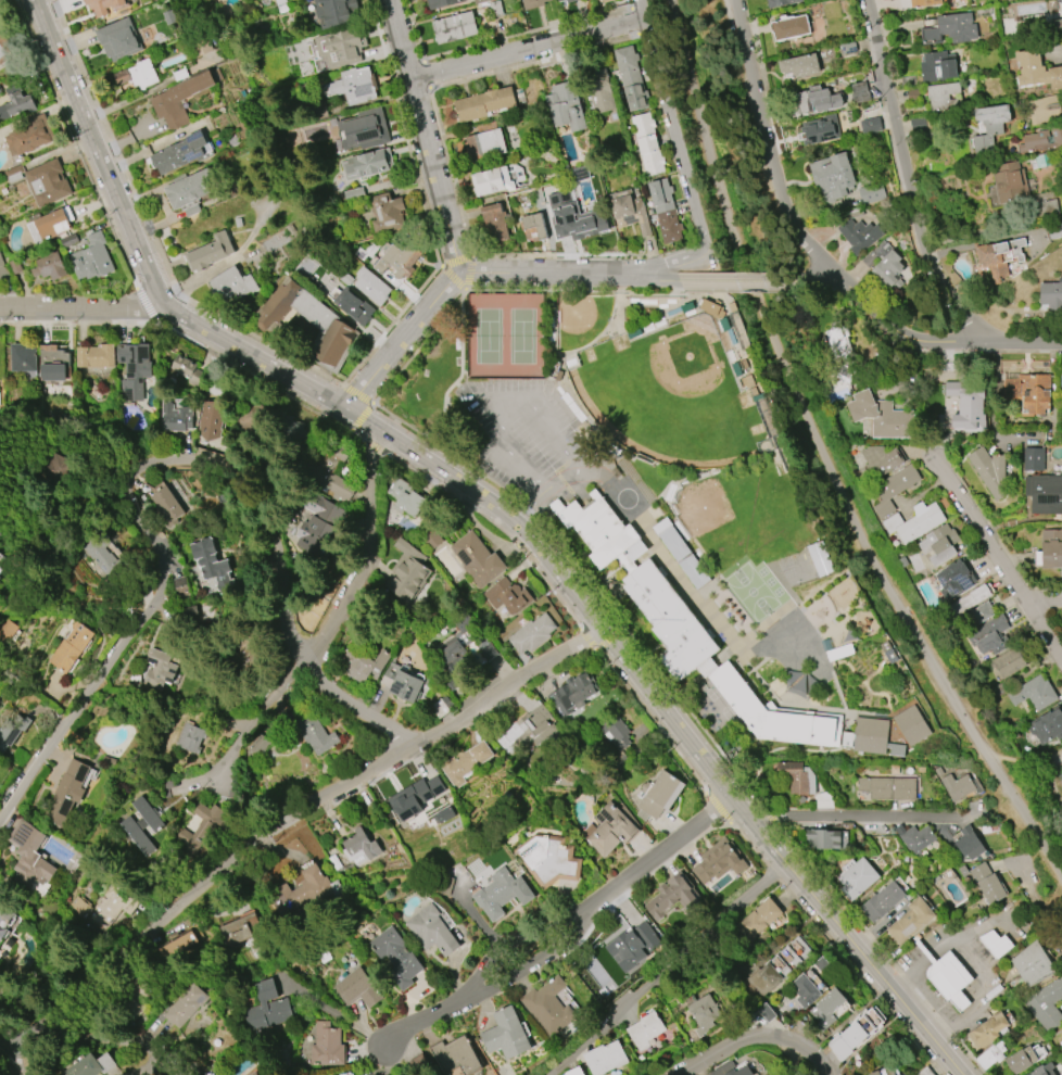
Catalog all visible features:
building: (560, 0)
building: (960, 0)
building: (479, 1)
building: (570, 1)
building: (606, 1)
building: (780, 2)
building: (924, 2)
building: (441, 3)
building: (532, 3)
building: (1061, 3)
building: (105, 5)
building: (495, 8)
building: (334, 12)
road: (639, 13)
building: (1055, 25)
building: (454, 27)
road: (641, 27)
building: (791, 28)
road: (414, 29)
building: (950, 29)
road: (526, 33)
building: (118, 39)
building: (201, 46)
building: (341, 46)
building: (5, 48)
building: (848, 48)
road: (529, 50)
building: (627, 63)
building: (798, 66)
building: (938, 66)
building: (1035, 69)
road: (423, 73)
building: (137, 74)
building: (179, 74)
road: (446, 80)
building: (357, 85)
building: (597, 85)
building: (859, 92)
building: (635, 93)
building: (943, 97)
building: (177, 100)
building: (812, 101)
building: (20, 103)
building: (484, 104)
building: (566, 105)
building: (918, 124)
building: (870, 125)
building: (988, 128)
building: (819, 129)
building: (363, 130)
building: (643, 130)
road: (405, 134)
road: (425, 134)
building: (29, 135)
building: (1040, 140)
road: (77, 143)
building: (485, 143)
road: (680, 143)
road: (769, 150)
building: (182, 153)
building: (652, 161)
building: (367, 164)
building: (832, 176)
building: (497, 179)
building: (47, 181)
road: (906, 181)
building: (1010, 185)
building: (191, 188)
building: (871, 192)
building: (660, 195)
building: (630, 210)
building: (387, 212)
building: (574, 218)
building: (494, 223)
building: (50, 225)
building: (669, 226)
building: (533, 227)
road: (736, 232)
road: (151, 236)
building: (859, 236)
building: (67, 240)
building: (210, 252)
road: (564, 255)
road: (673, 257)
building: (998, 257)
building: (91, 258)
road: (456, 262)
building: (395, 263)
building: (885, 265)
building: (49, 266)
road: (456, 269)
road: (652, 269)
road: (471, 271)
road: (657, 277)
road: (454, 278)
road: (734, 280)
road: (817, 280)
building: (231, 283)
building: (371, 286)
road: (819, 287)
road: (738, 289)
road: (541, 291)
road: (466, 292)
building: (1051, 294)
road: (716, 295)
road: (649, 296)
road: (654, 302)
road: (149, 305)
building: (354, 306)
building: (713, 306)
road: (83, 312)
road: (659, 313)
road: (875, 319)
park: (581, 321)
road: (80, 322)
building: (311, 322)
road: (393, 326)
road: (556, 326)
road: (607, 330)
road: (907, 336)
park: (505, 337)
building: (838, 341)
road: (1026, 341)
road: (420, 349)
road: (985, 351)
building: (96, 356)
building: (23, 357)
building: (53, 363)
road: (254, 364)
building: (134, 368)
building: (187, 370)
road: (465, 374)
road: (466, 374)
road: (256, 378)
building: (1061, 380)
building: (1028, 392)
road: (473, 393)
road: (359, 394)
road: (995, 394)
road: (520, 396)
road: (549, 396)
park: (671, 399)
building: (966, 405)
building: (862, 406)
building: (175, 417)
road: (364, 417)
building: (251, 418)
building: (211, 419)
building: (893, 421)
road: (415, 428)
building: (293, 435)
road: (359, 435)
parking lot: (529, 438)
road: (377, 447)
building: (1033, 458)
building: (880, 460)
road: (148, 465)
road: (948, 467)
building: (330, 470)
building: (989, 471)
building: (893, 488)
building: (1044, 493)
building: (405, 497)
building: (166, 503)
road: (530, 505)
park: (746, 516)
building: (912, 521)
building: (317, 524)
road: (500, 526)
road: (553, 528)
road: (989, 529)
building: (432, 540)
building: (940, 544)
building: (1049, 549)
building: (101, 553)
building: (682, 553)
road: (368, 556)
building: (477, 559)
road: (999, 560)
building: (213, 565)
building: (1, 568)
building: (407, 572)
building: (952, 580)
road: (1048, 589)
road: (1029, 595)
building: (507, 596)
building: (966, 600)
road: (1044, 600)
road: (75, 614)
building: (975, 616)
building: (690, 629)
building: (8, 630)
building: (532, 633)
building: (989, 635)
road: (591, 637)
road: (614, 638)
building: (464, 643)
building: (71, 646)
building: (840, 650)
road: (652, 660)
building: (1004, 663)
building: (364, 665)
road: (933, 667)
building: (159, 669)
building: (404, 681)
building: (573, 694)
building: (1033, 694)
road: (655, 720)
road: (255, 722)
building: (913, 725)
building: (1046, 725)
building: (529, 728)
building: (12, 729)
building: (616, 732)
building: (313, 733)
building: (873, 735)
building: (190, 737)
road: (718, 748)
building: (257, 749)
building: (464, 762)
road: (1021, 763)
road: (1053, 773)
building: (796, 776)
building: (1059, 779)
building: (956, 786)
building: (885, 788)
building: (66, 793)
building: (658, 795)
building: (415, 798)
road: (998, 801)
road: (720, 808)
road: (285, 814)
road: (768, 814)
building: (443, 815)
road: (851, 815)
road: (972, 817)
building: (142, 824)
building: (201, 826)
building: (608, 830)
building: (825, 838)
building: (916, 838)
building: (969, 844)
road: (750, 845)
building: (359, 848)
road: (677, 855)
road: (776, 855)
building: (29, 856)
building: (548, 859)
building: (719, 861)
road: (774, 873)
building: (856, 877)
building: (984, 882)
building: (304, 891)
building: (501, 893)
road: (833, 894)
building: (670, 895)
road: (1039, 900)
building: (882, 901)
building: (106, 905)
building: (757, 918)
building: (4, 919)
building: (910, 921)
building: (239, 928)
building: (432, 931)
road: (564, 934)
road: (829, 937)
building: (995, 944)
building: (178, 945)
building: (397, 958)
road: (921, 962)
building: (1032, 964)
building: (776, 967)
road: (668, 970)
road: (975, 970)
building: (949, 979)
building: (809, 983)
building: (358, 988)
road: (920, 999)
building: (187, 1004)
building: (1046, 1004)
building: (546, 1006)
building: (827, 1008)
building: (267, 1009)
road: (337, 1013)
building: (703, 1013)
building: (645, 1030)
building: (987, 1032)
building: (505, 1034)
building: (854, 1034)
road: (907, 1035)
road: (761, 1037)
road: (116, 1039)
building: (326, 1045)
road: (969, 1054)
building: (990, 1055)
building: (455, 1057)
building: (604, 1058)
building: (1023, 1059)
road: (379, 1061)
road: (7, 1062)
road: (178, 1062)
building: (91, 1065)
building: (733, 1068)
building: (1044, 1070)
building: (573, 1071)
building: (887, 1071)
building: (253, 1073)
building: (246, 1074)
building: (349, 1074)

